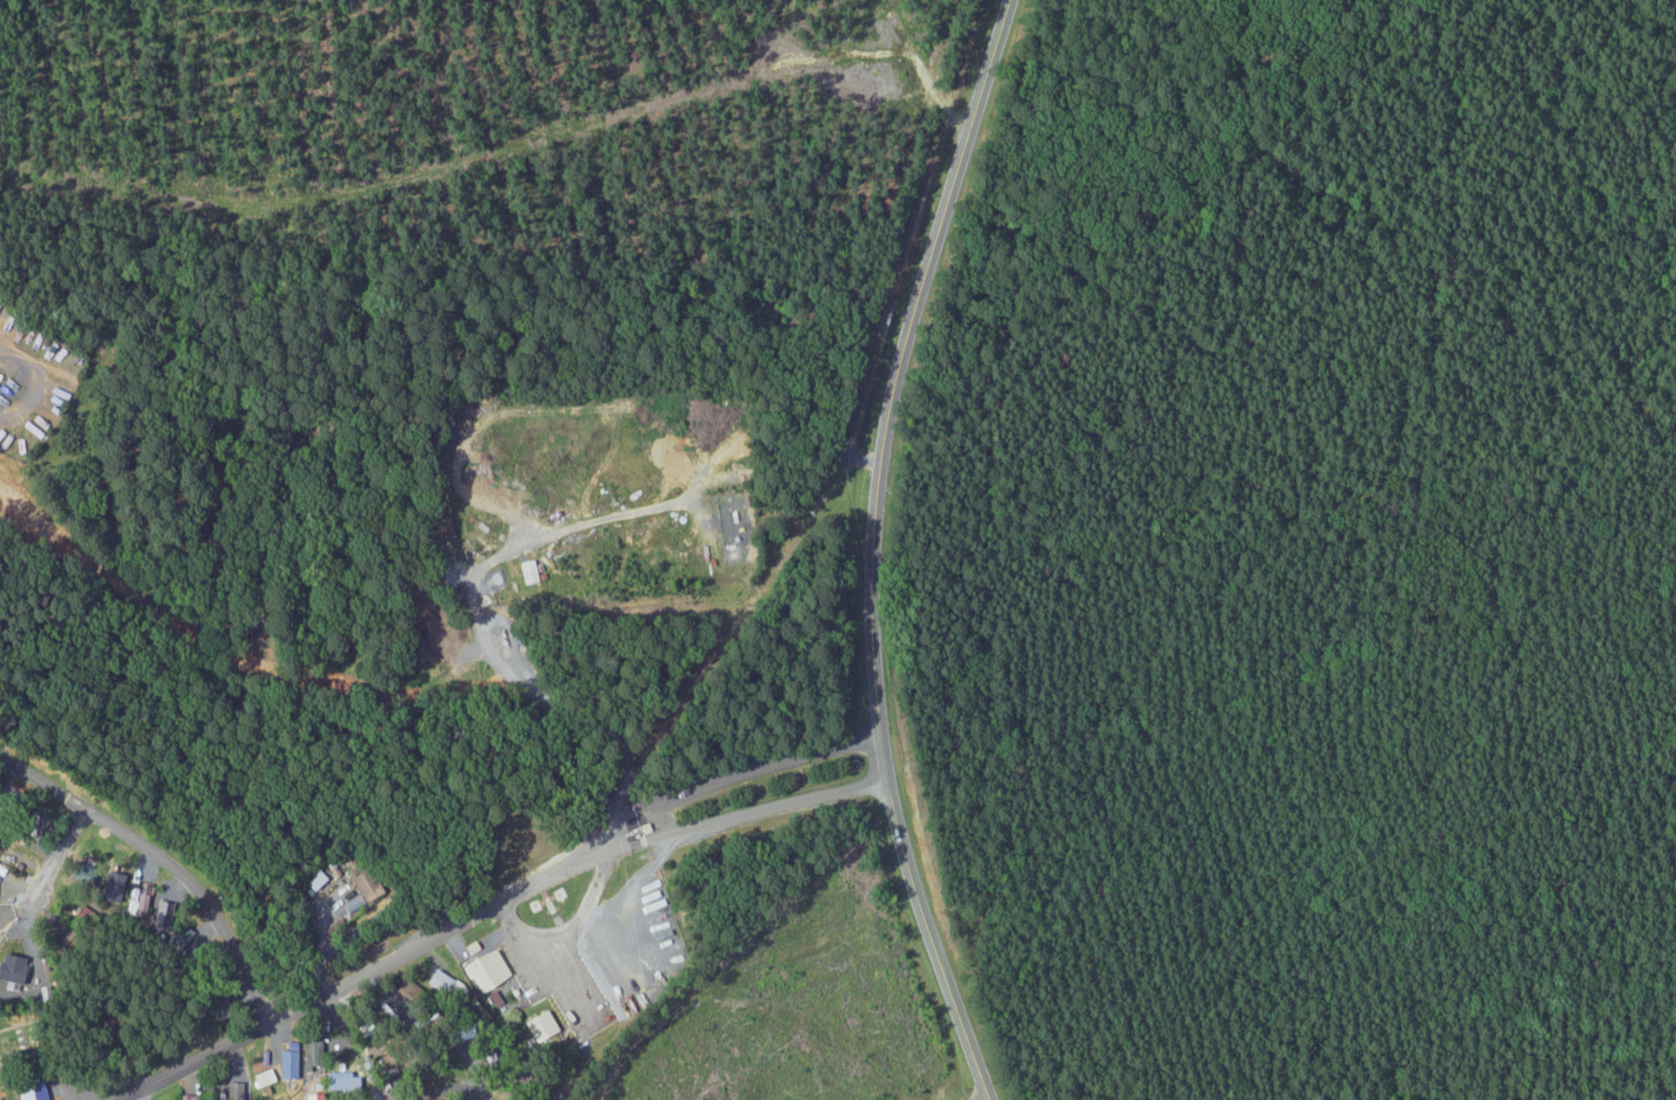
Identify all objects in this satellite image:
road: (872, 549)
building: (525, 570)
road: (738, 776)
road: (164, 859)
road: (107, 863)
building: (315, 879)
road: (625, 888)
building: (132, 891)
parking lot: (510, 928)
parking lot: (606, 947)
parking lot: (520, 963)
building: (485, 966)
building: (14, 970)
road: (362, 972)
road: (567, 980)
building: (213, 1003)
building: (538, 1024)
building: (311, 1044)
building: (260, 1078)
building: (337, 1080)
building: (36, 1091)
road: (452, 1091)
road: (134, 1097)
building: (182, 1097)
building: (310, 1097)

